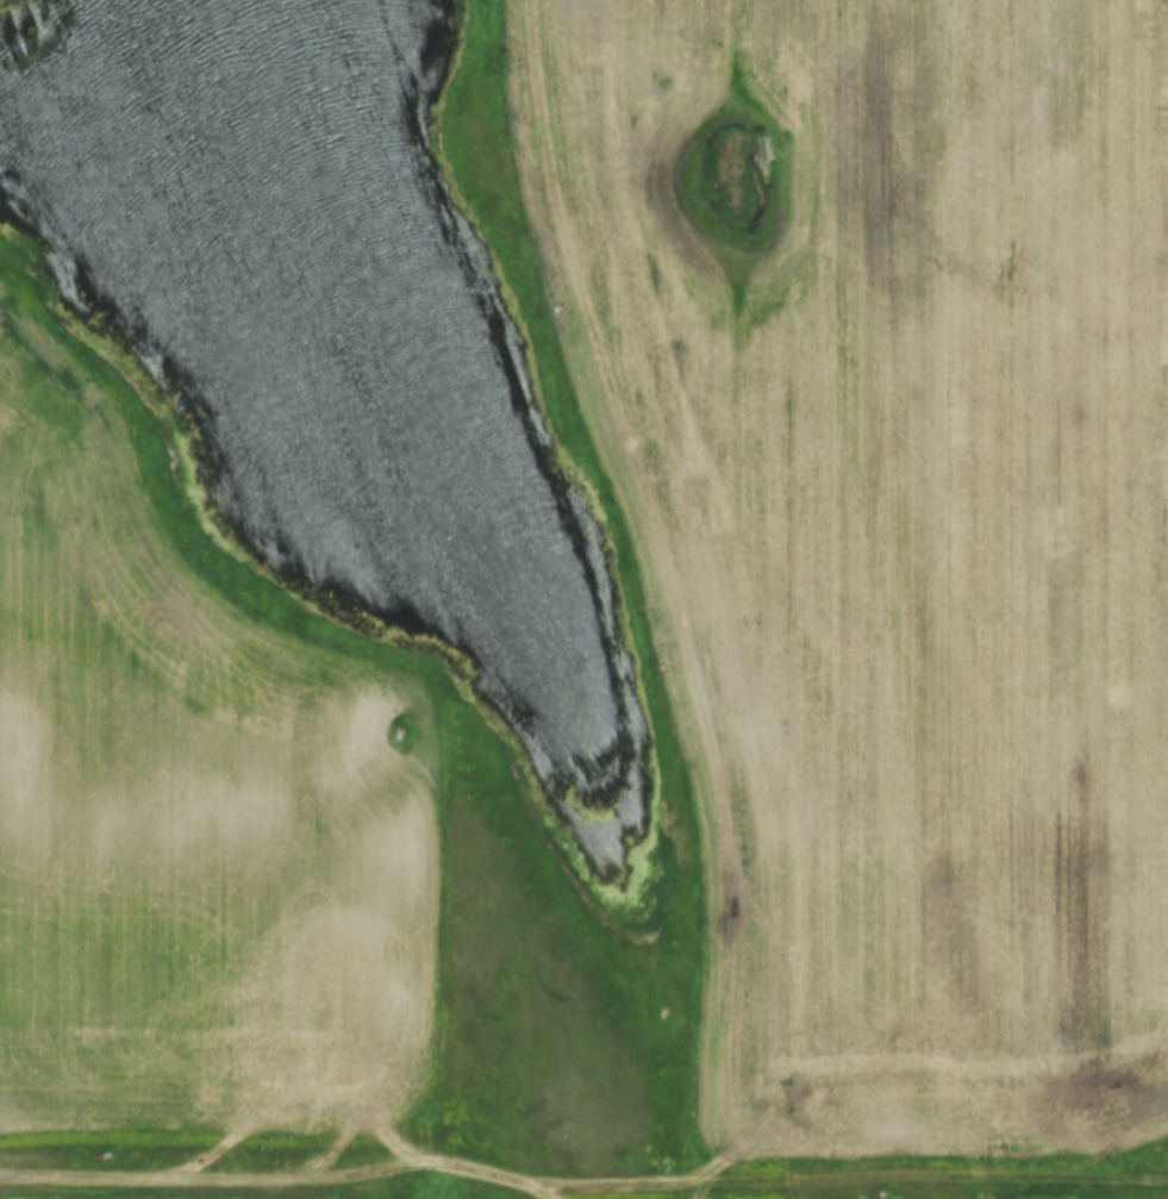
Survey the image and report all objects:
road: (576, 1188)

